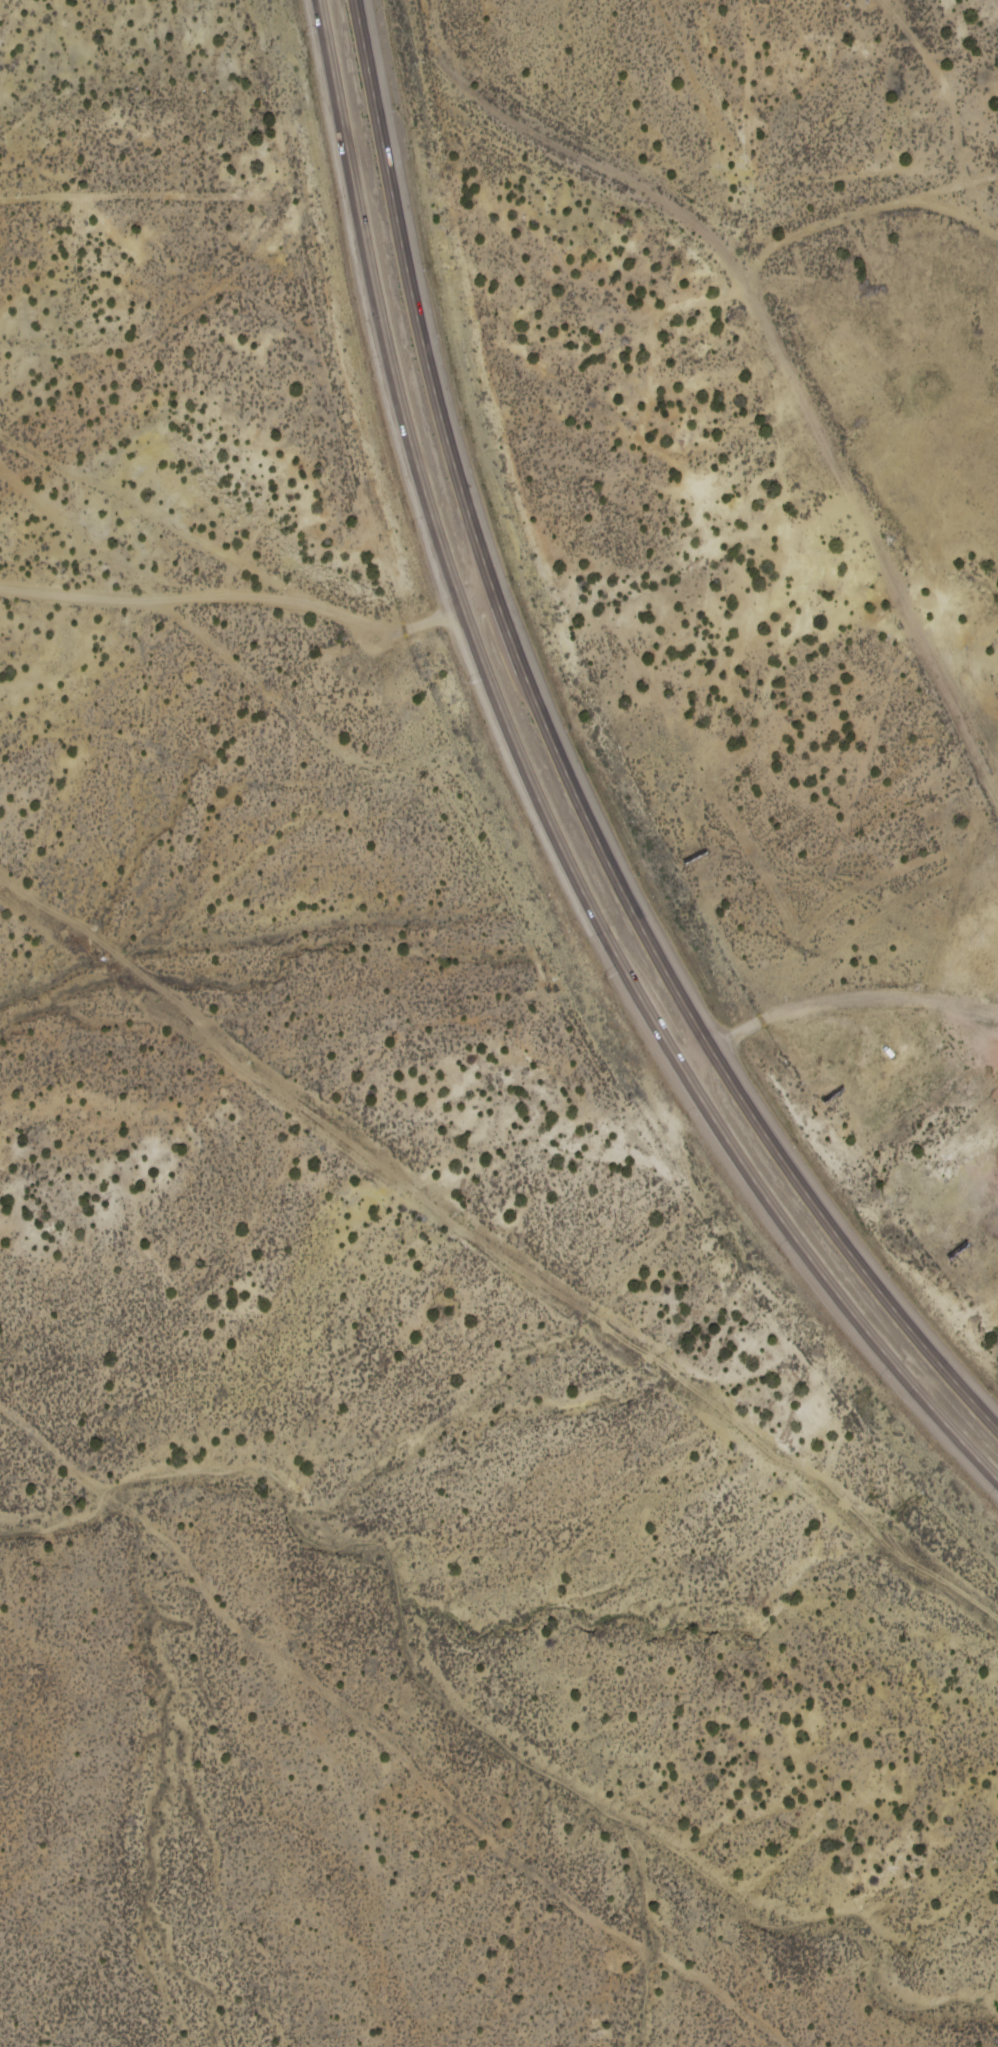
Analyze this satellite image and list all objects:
road: (965, 187)
road: (698, 246)
road: (157, 519)
road: (867, 536)
road: (247, 595)
road: (555, 767)
road: (538, 794)
road: (849, 995)
power tower: (254, 1627)
power tower: (615, 1922)

